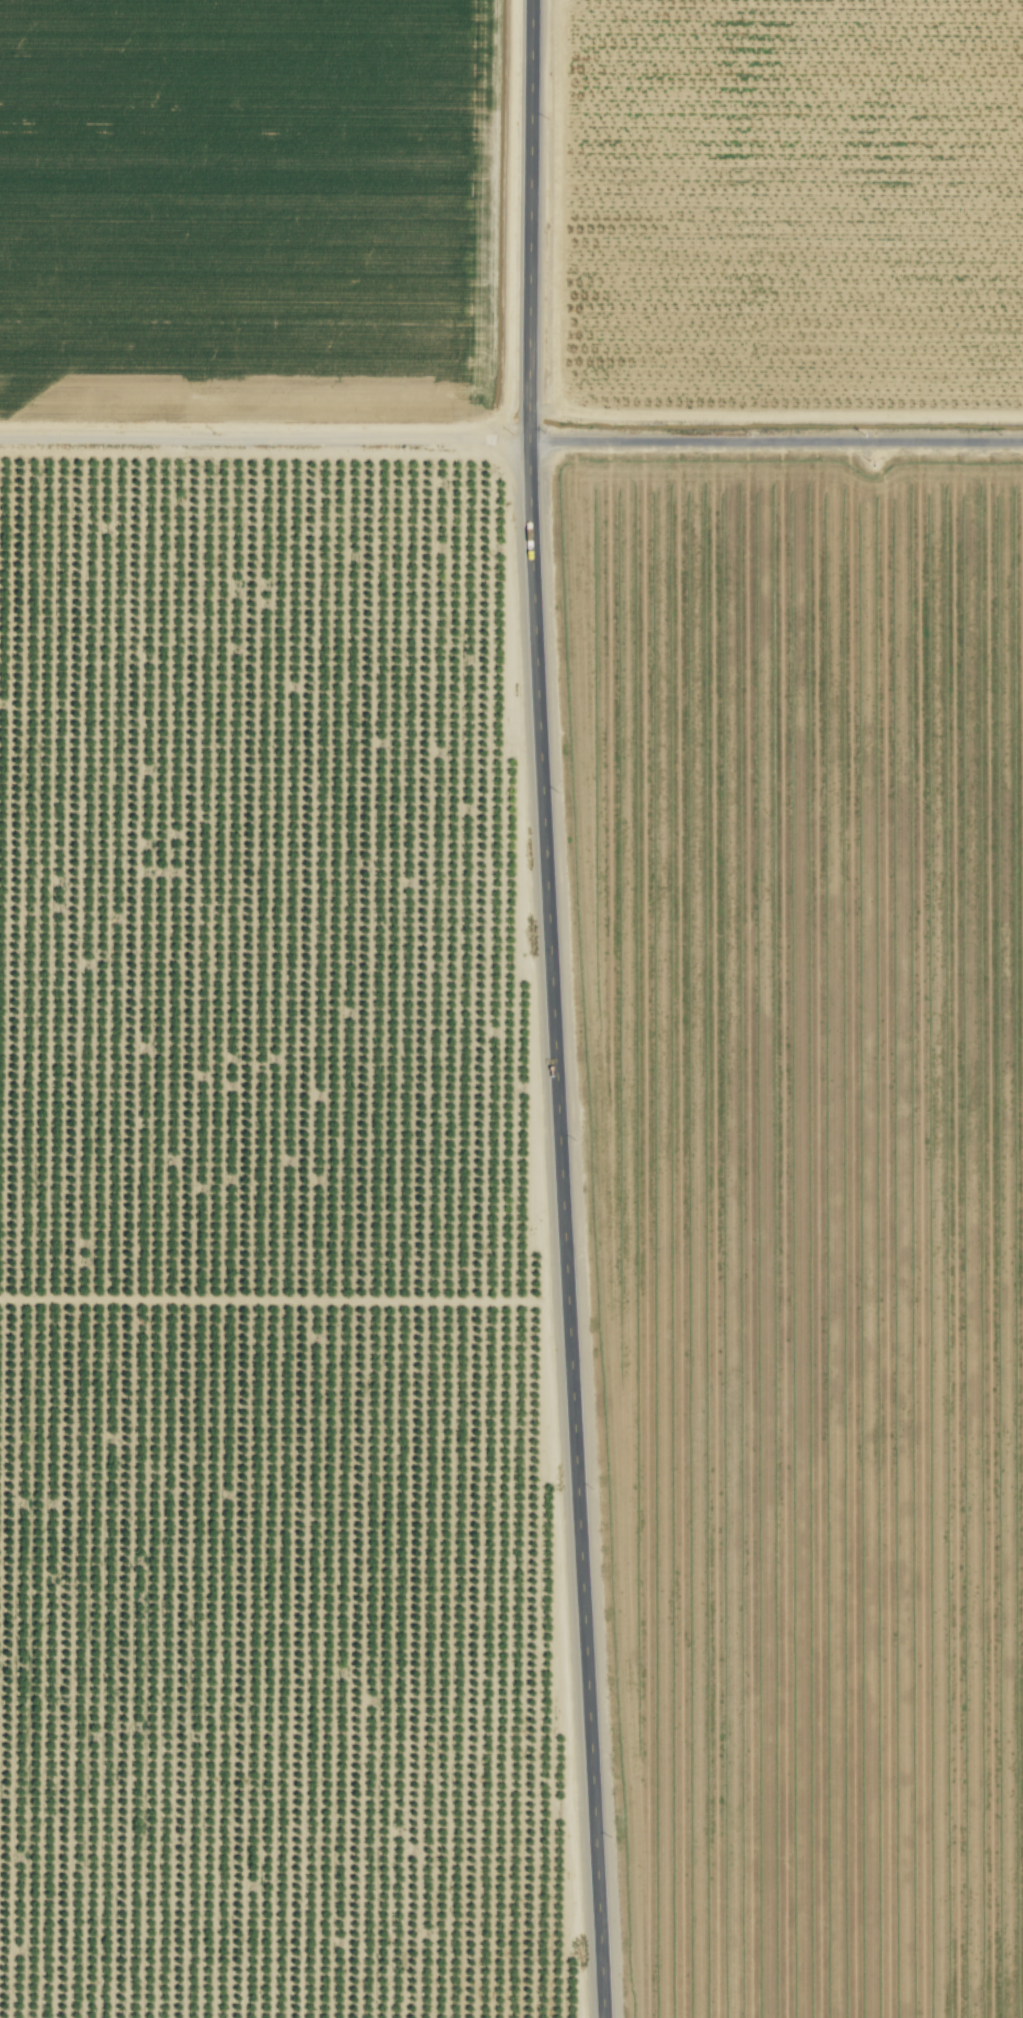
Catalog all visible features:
crop: (253, 222)
road: (775, 418)
road: (775, 440)
road: (551, 1009)

